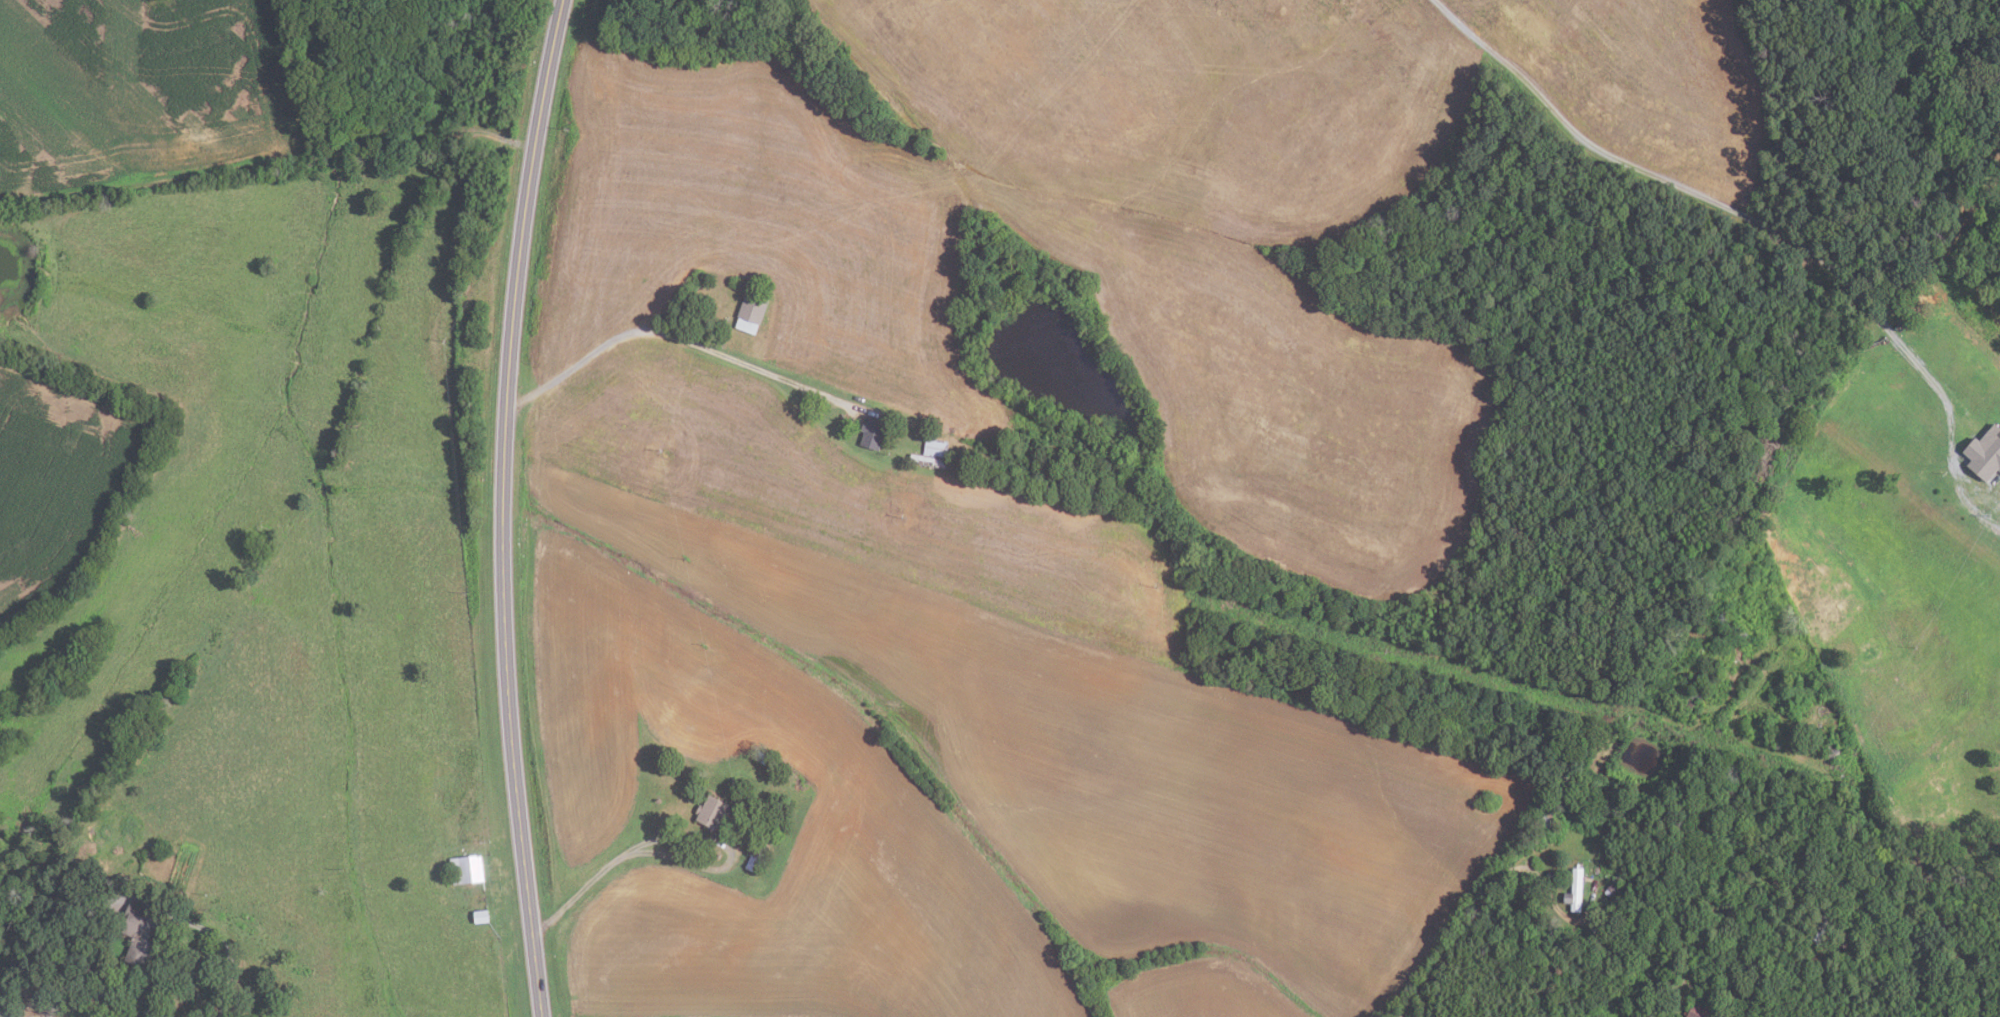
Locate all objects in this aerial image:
crop: (1644, 75)
road: (267, 156)
road: (1707, 202)
crop: (1070, 237)
building: (751, 312)
road: (674, 332)
building: (873, 433)
building: (936, 447)
building: (1985, 453)
building: (928, 461)
building: (1994, 493)
crop: (854, 495)
building: (1966, 501)
road: (503, 507)
building: (1733, 626)
building: (764, 758)
crop: (961, 793)
building: (781, 807)
building: (712, 811)
building: (1548, 821)
road: (684, 835)
building: (152, 852)
building: (718, 856)
building: (755, 861)
building: (466, 869)
building: (121, 881)
building: (1615, 887)
building: (1575, 891)
road: (131, 898)
building: (481, 917)
building: (141, 935)
road: (1557, 1006)
building: (1696, 1011)

